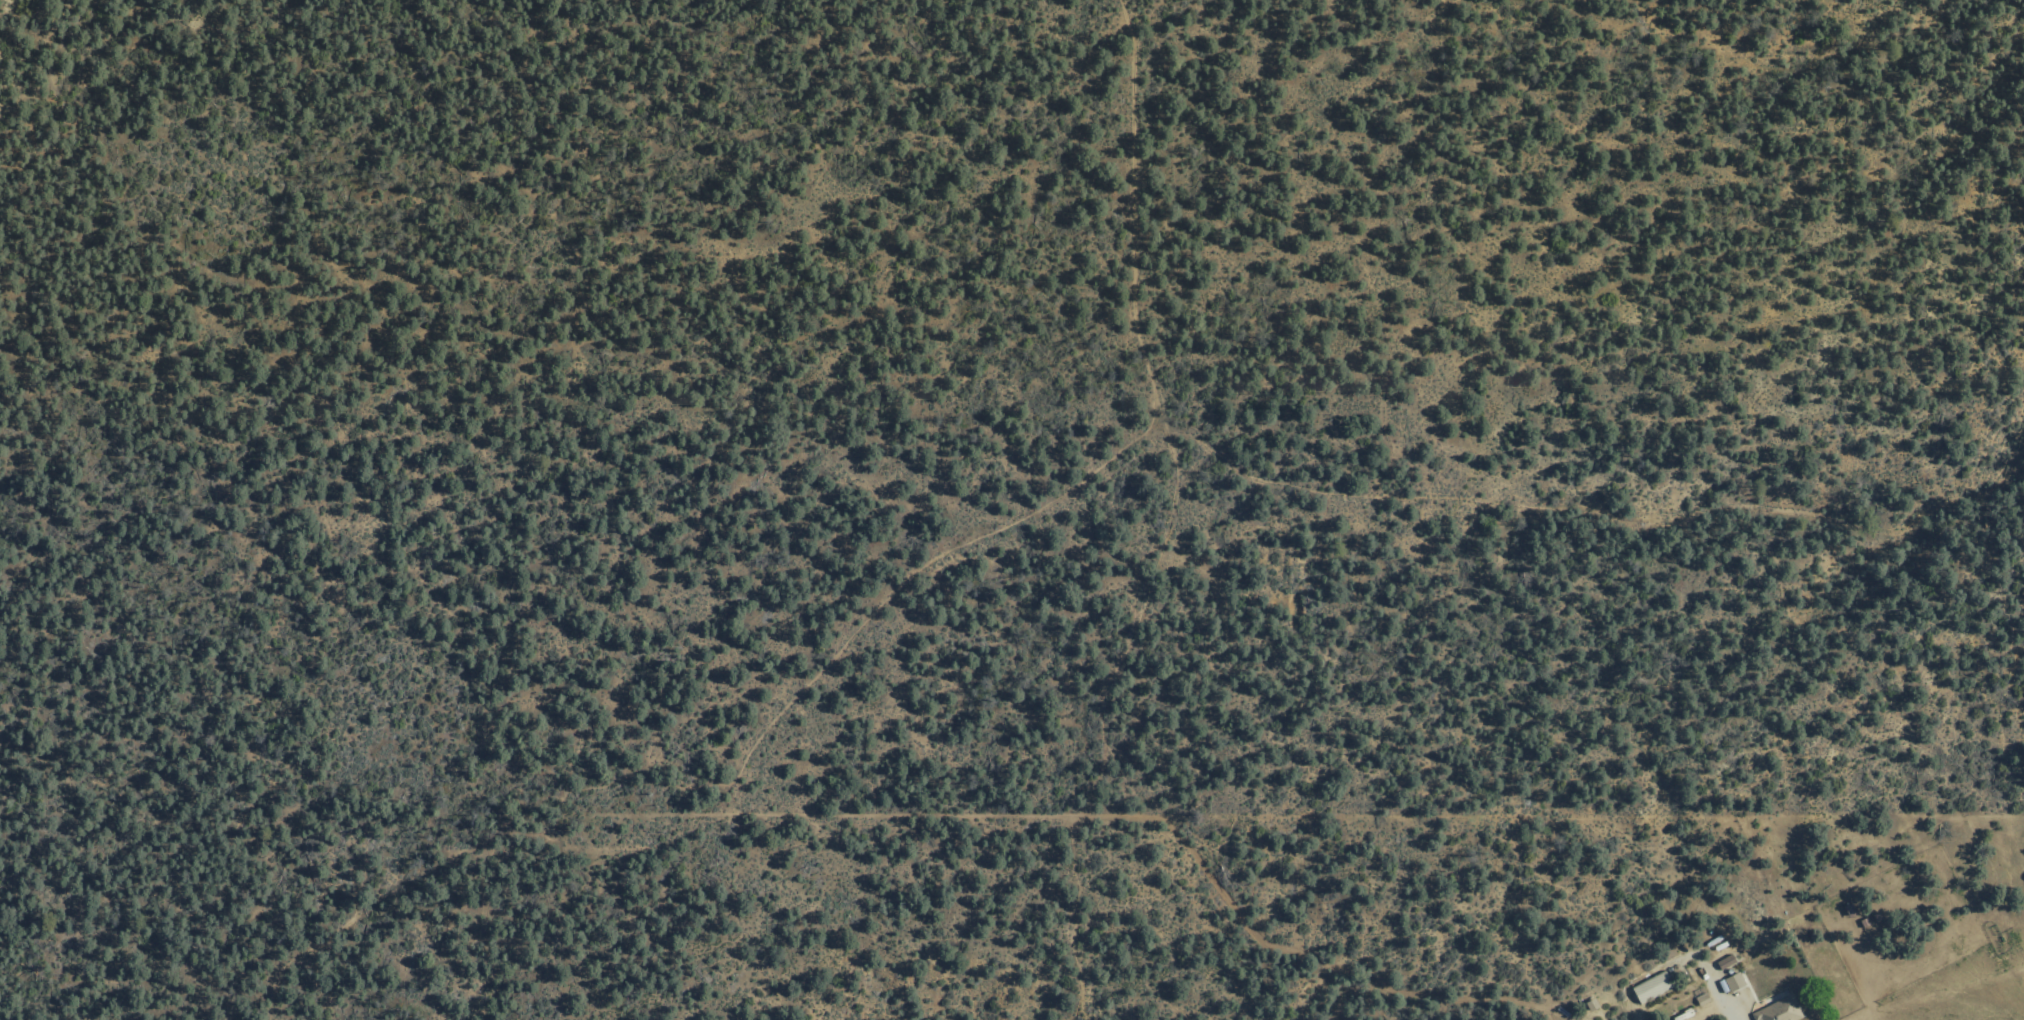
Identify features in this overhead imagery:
road: (1132, 204)
road: (732, 781)
road: (1147, 816)
building: (1849, 909)
building: (1727, 962)
building: (1735, 982)
building: (1654, 987)
road: (1724, 1000)
building: (1780, 1011)

